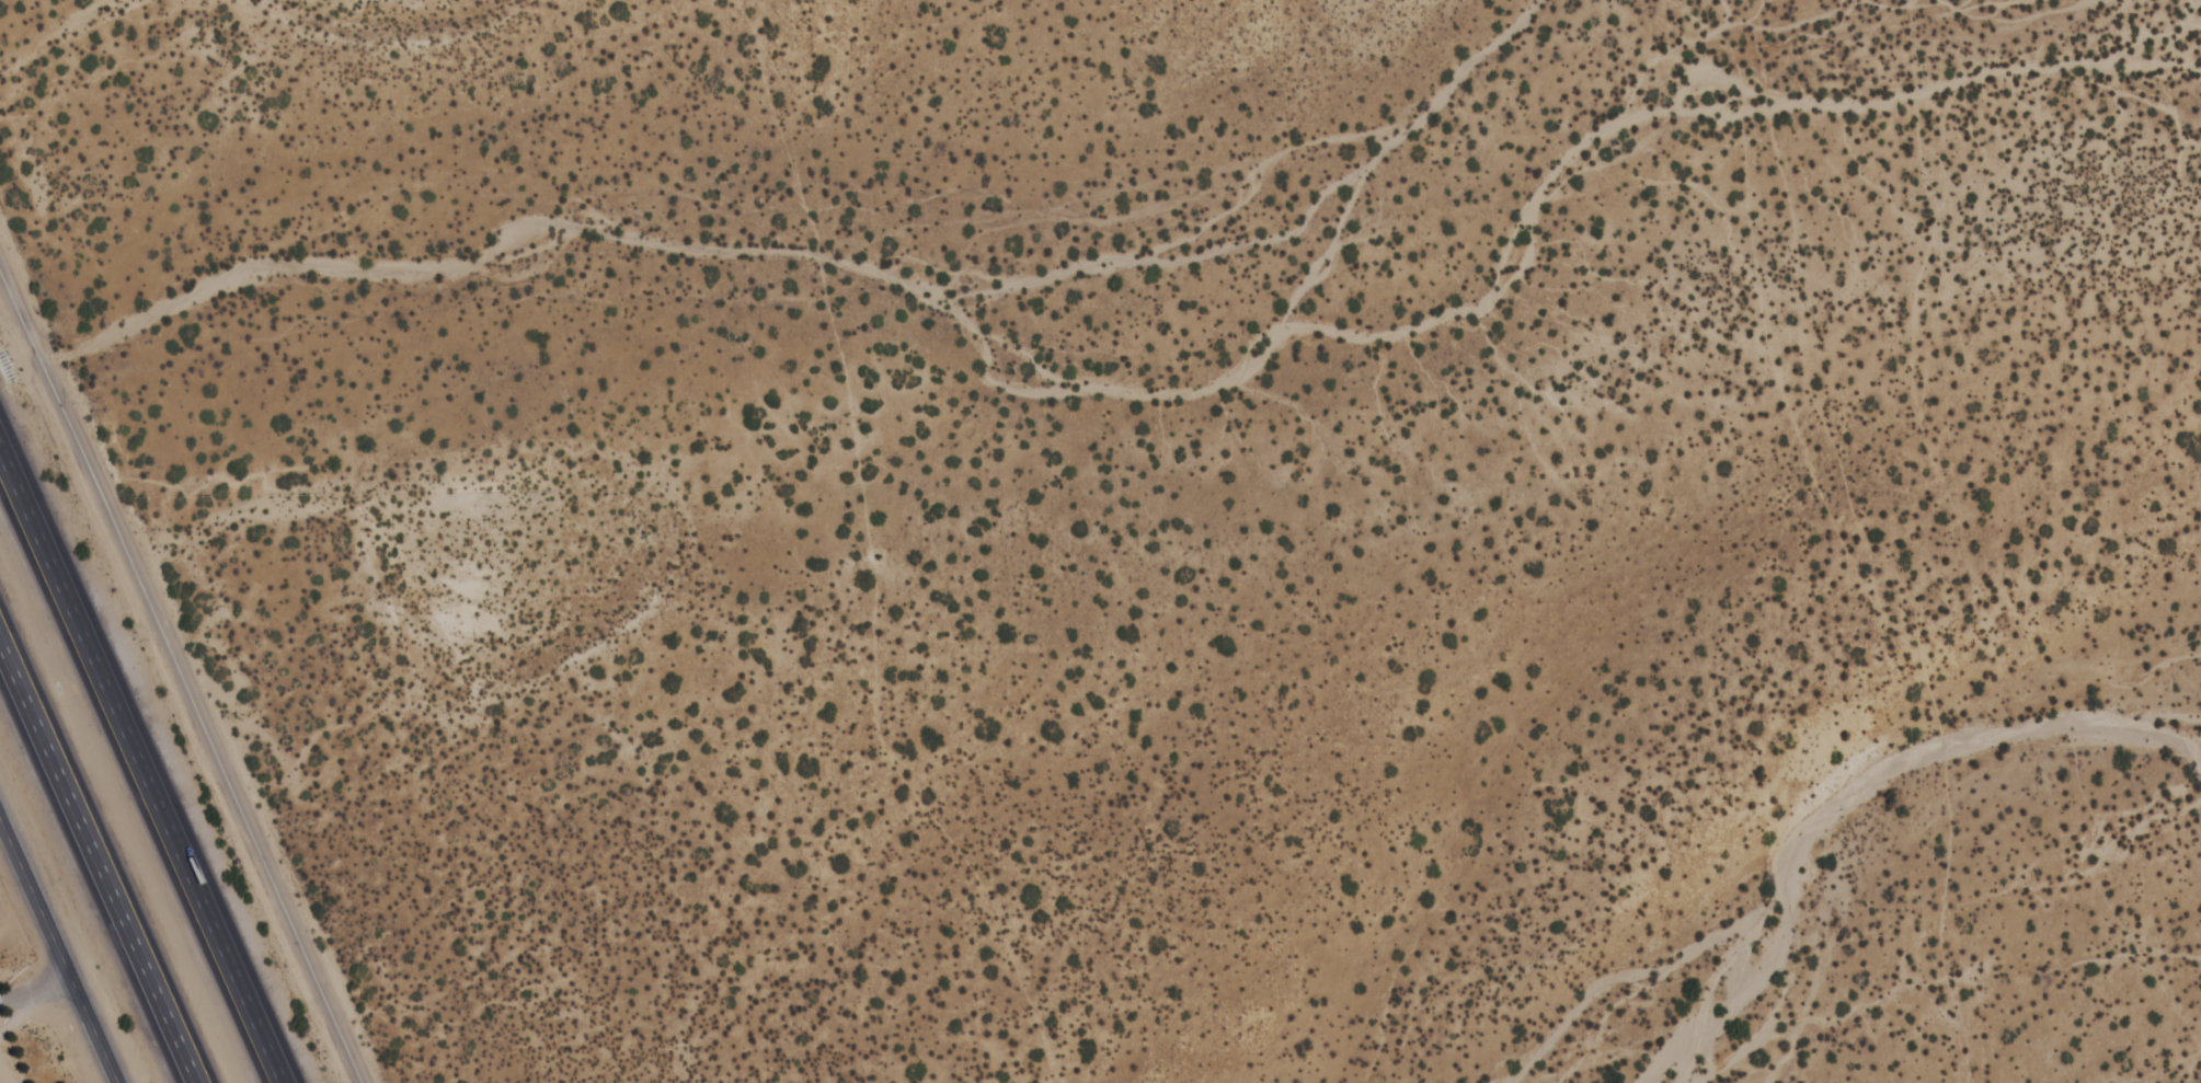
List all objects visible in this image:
road: (183, 672)
road: (141, 764)
road: (98, 862)
road: (60, 945)
road: (39, 998)

